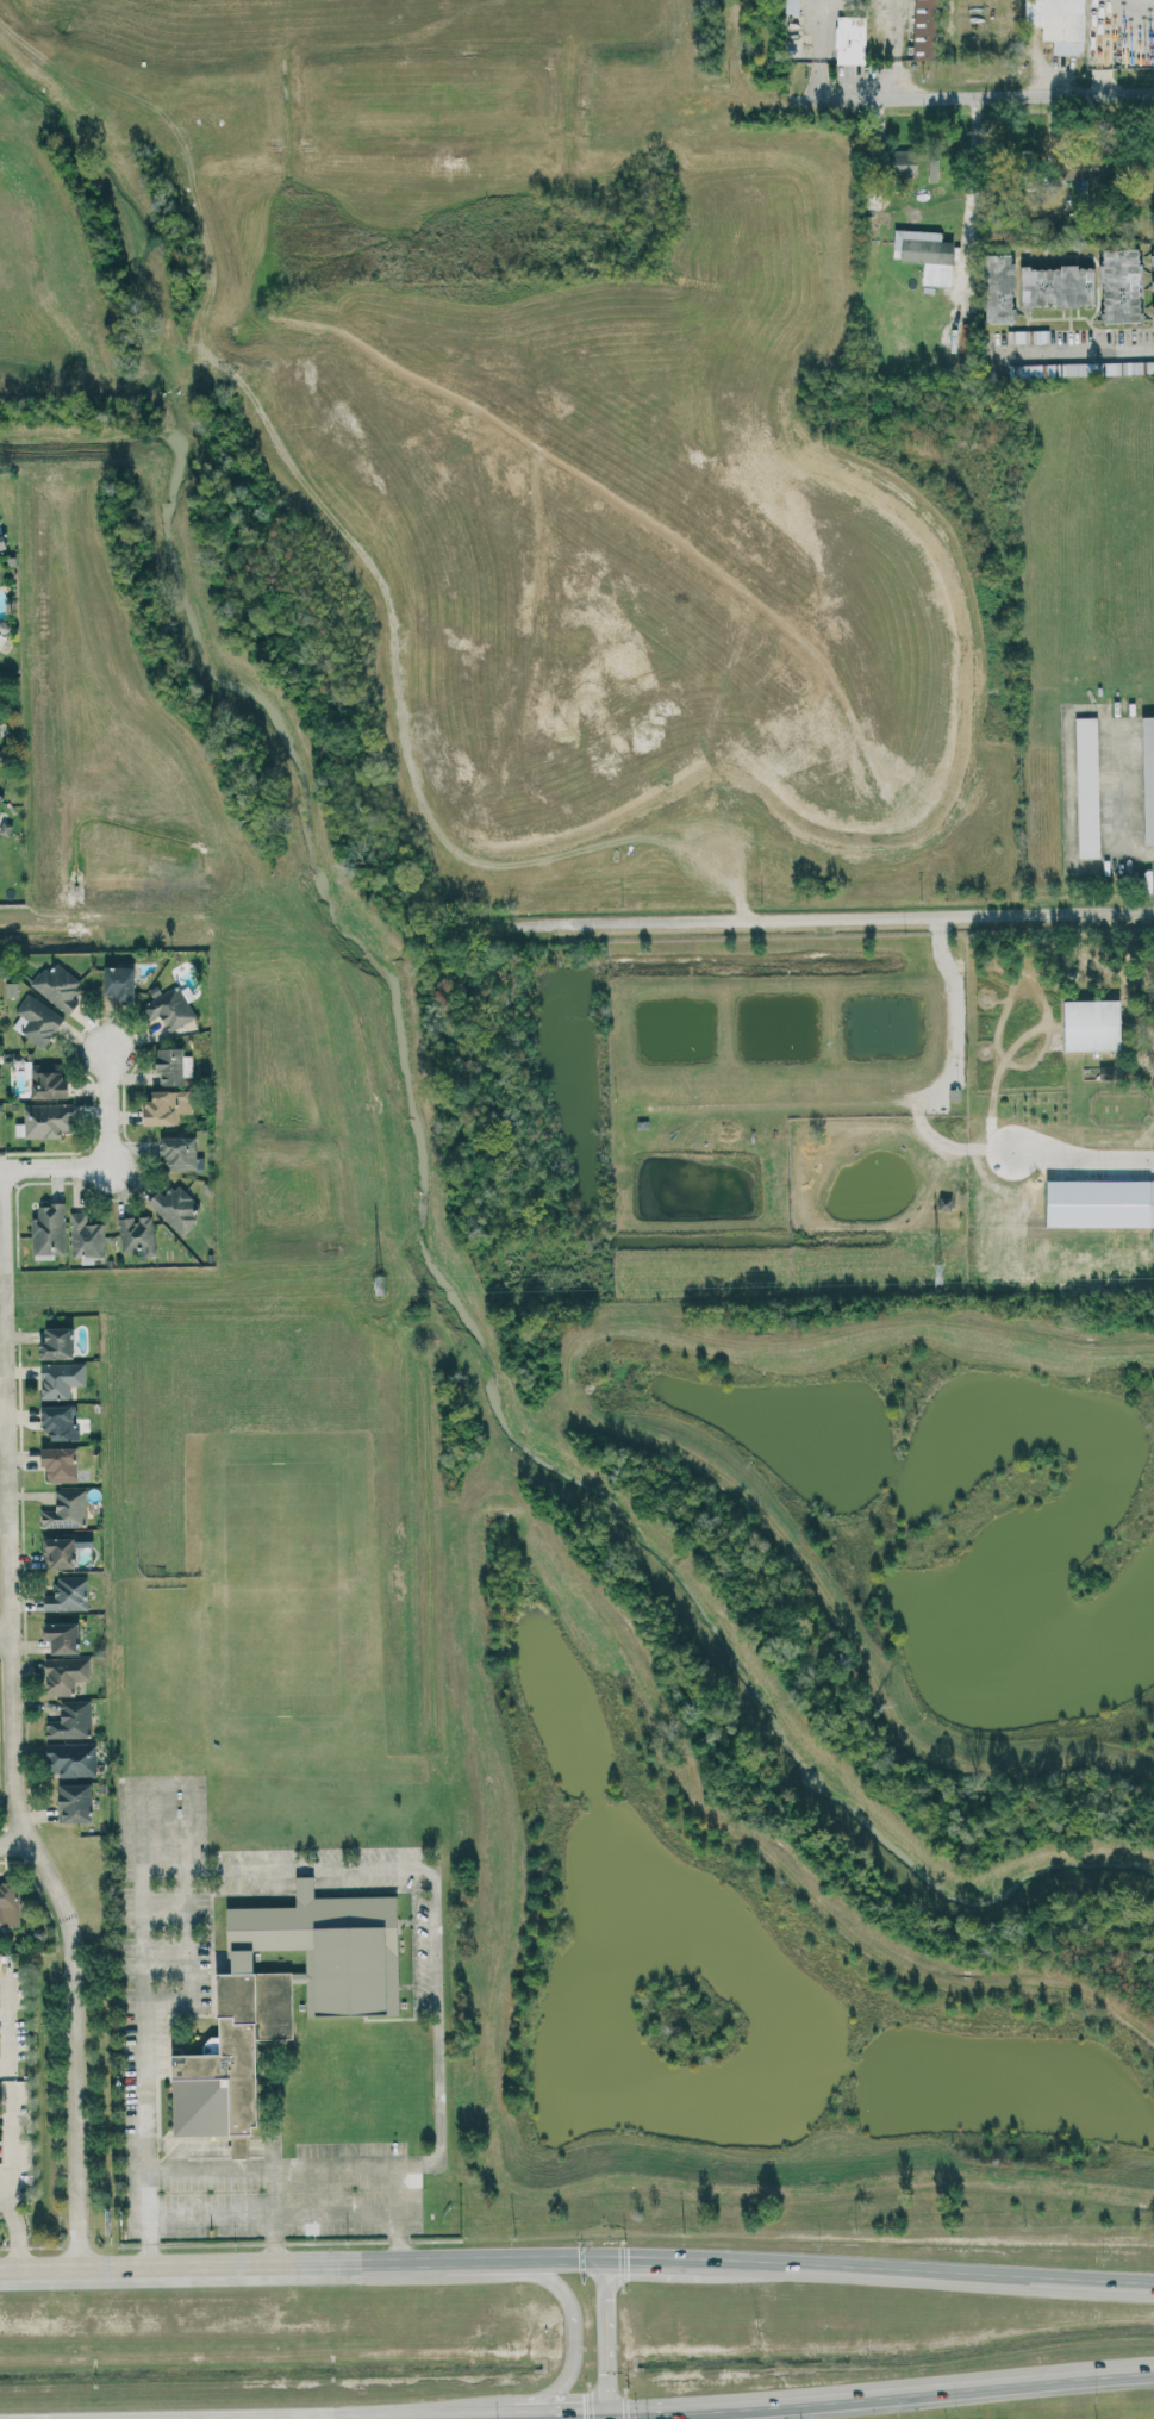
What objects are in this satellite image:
building: (792, 6)
road: (1134, 6)
building: (1059, 23)
building: (924, 29)
road: (902, 50)
road: (825, 51)
road: (966, 99)
building: (903, 156)
building: (1086, 163)
road: (969, 188)
building: (927, 254)
building: (1153, 264)
building: (1121, 285)
building: (1058, 286)
building: (999, 287)
building: (1028, 336)
road: (1079, 351)
building: (2, 542)
building: (0, 735)
building: (4, 754)
building: (1148, 777)
building: (1087, 786)
building: (0, 794)
road: (751, 806)
road: (835, 916)
building: (119, 983)
building: (57, 985)
building: (171, 1006)
building: (37, 1021)
building: (1092, 1024)
building: (187, 1065)
building: (169, 1066)
building: (0, 1078)
building: (48, 1080)
road: (108, 1106)
building: (167, 1106)
river: (418, 1111)
building: (48, 1120)
building: (180, 1153)
road: (55, 1167)
building: (1152, 1203)
building: (175, 1208)
building: (49, 1230)
building: (137, 1234)
building: (86, 1236)
power tower: (938, 1272)
power tower: (381, 1283)
building: (57, 1343)
building: (61, 1379)
building: (60, 1421)
road: (1, 1426)
building: (60, 1464)
building: (67, 1509)
building: (60, 1552)
building: (68, 1594)
road: (2, 1634)
building: (63, 1636)
building: (66, 1675)
building: (71, 1720)
road: (8, 1758)
building: (71, 1759)
road: (146, 1797)
building: (75, 1802)
road: (13, 1843)
building: (8, 1903)
road: (437, 1912)
building: (331, 1947)
building: (226, 2053)
parking lot: (14, 2081)
road: (11, 2120)
road: (155, 2140)
road: (326, 2165)
parking lot: (273, 2192)
road: (274, 2217)
road: (279, 2220)
road: (576, 2258)
traffic signals: (604, 2258)
road: (605, 2338)
road: (573, 2343)
road: (880, 2393)
traffic signals: (607, 2418)

